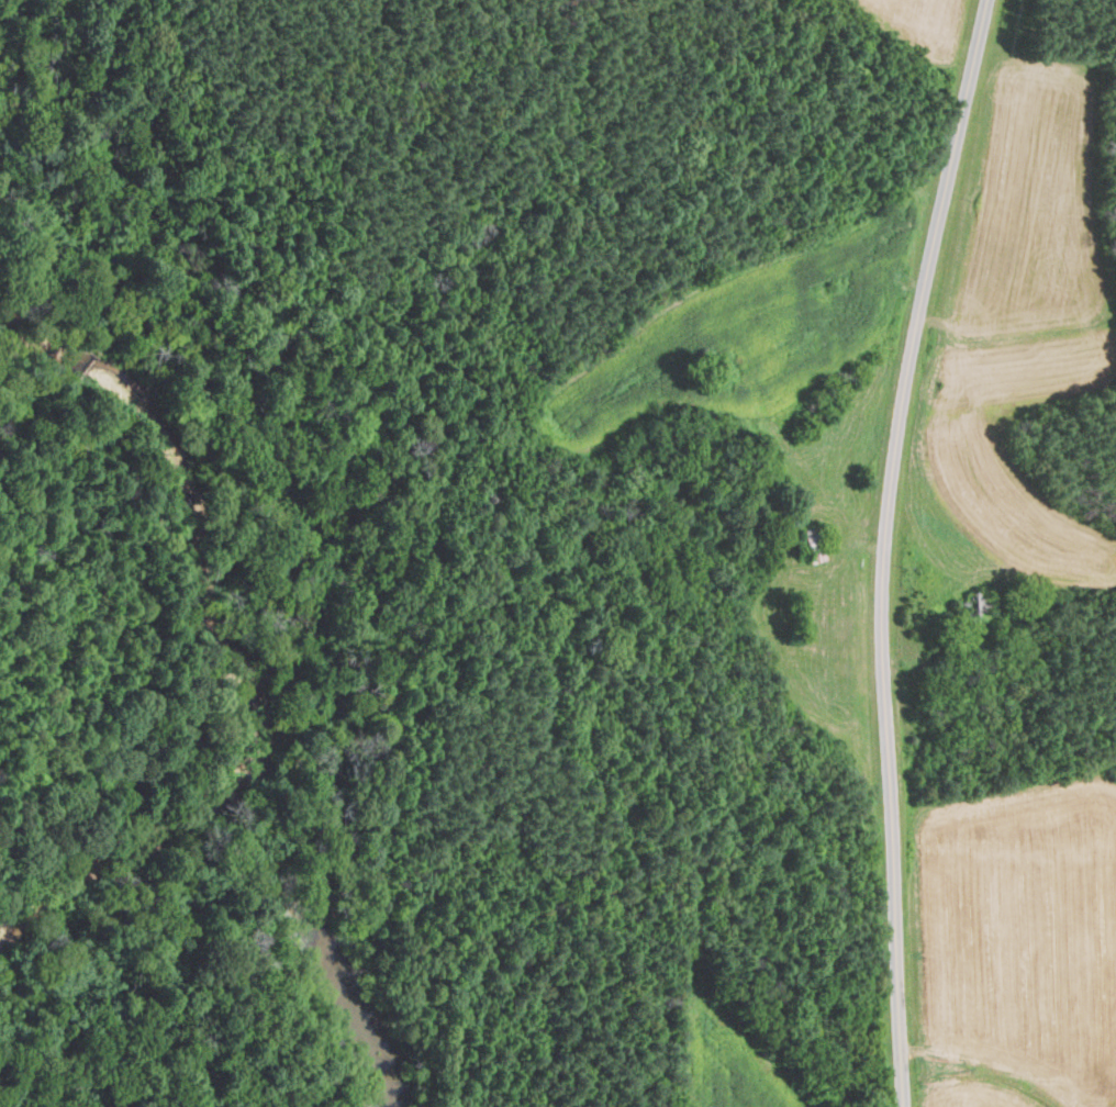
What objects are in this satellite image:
road: (886, 549)

